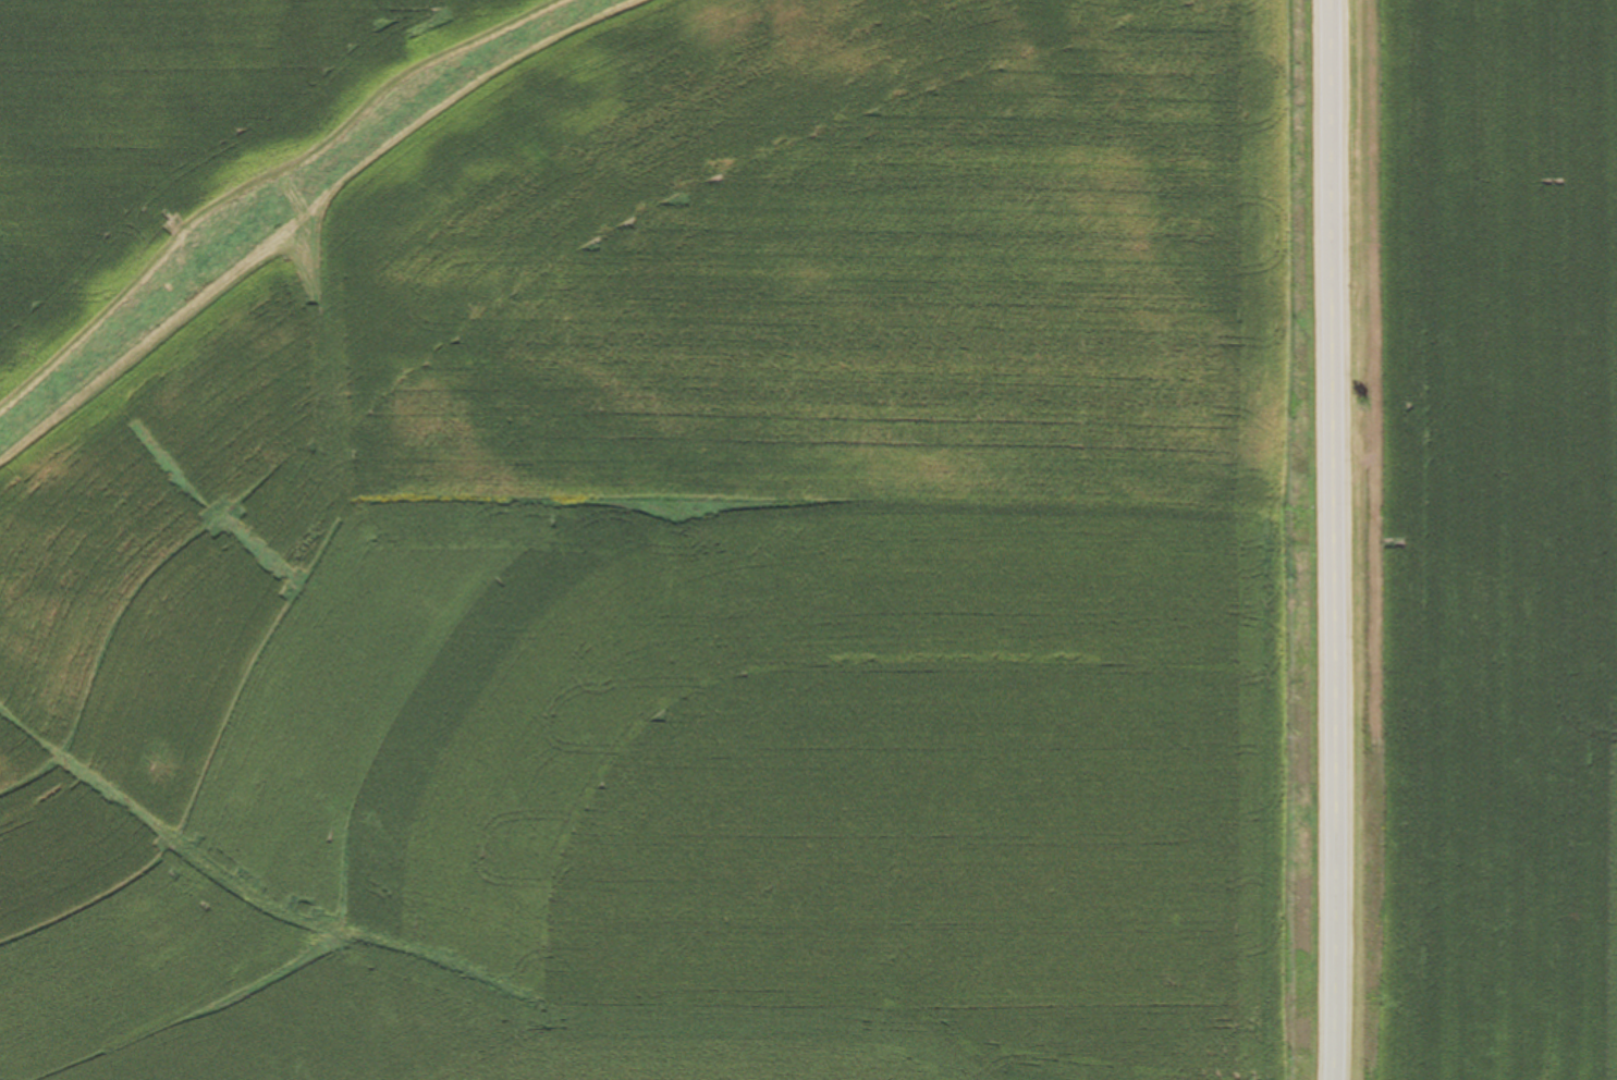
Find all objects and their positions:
road: (1333, 540)

